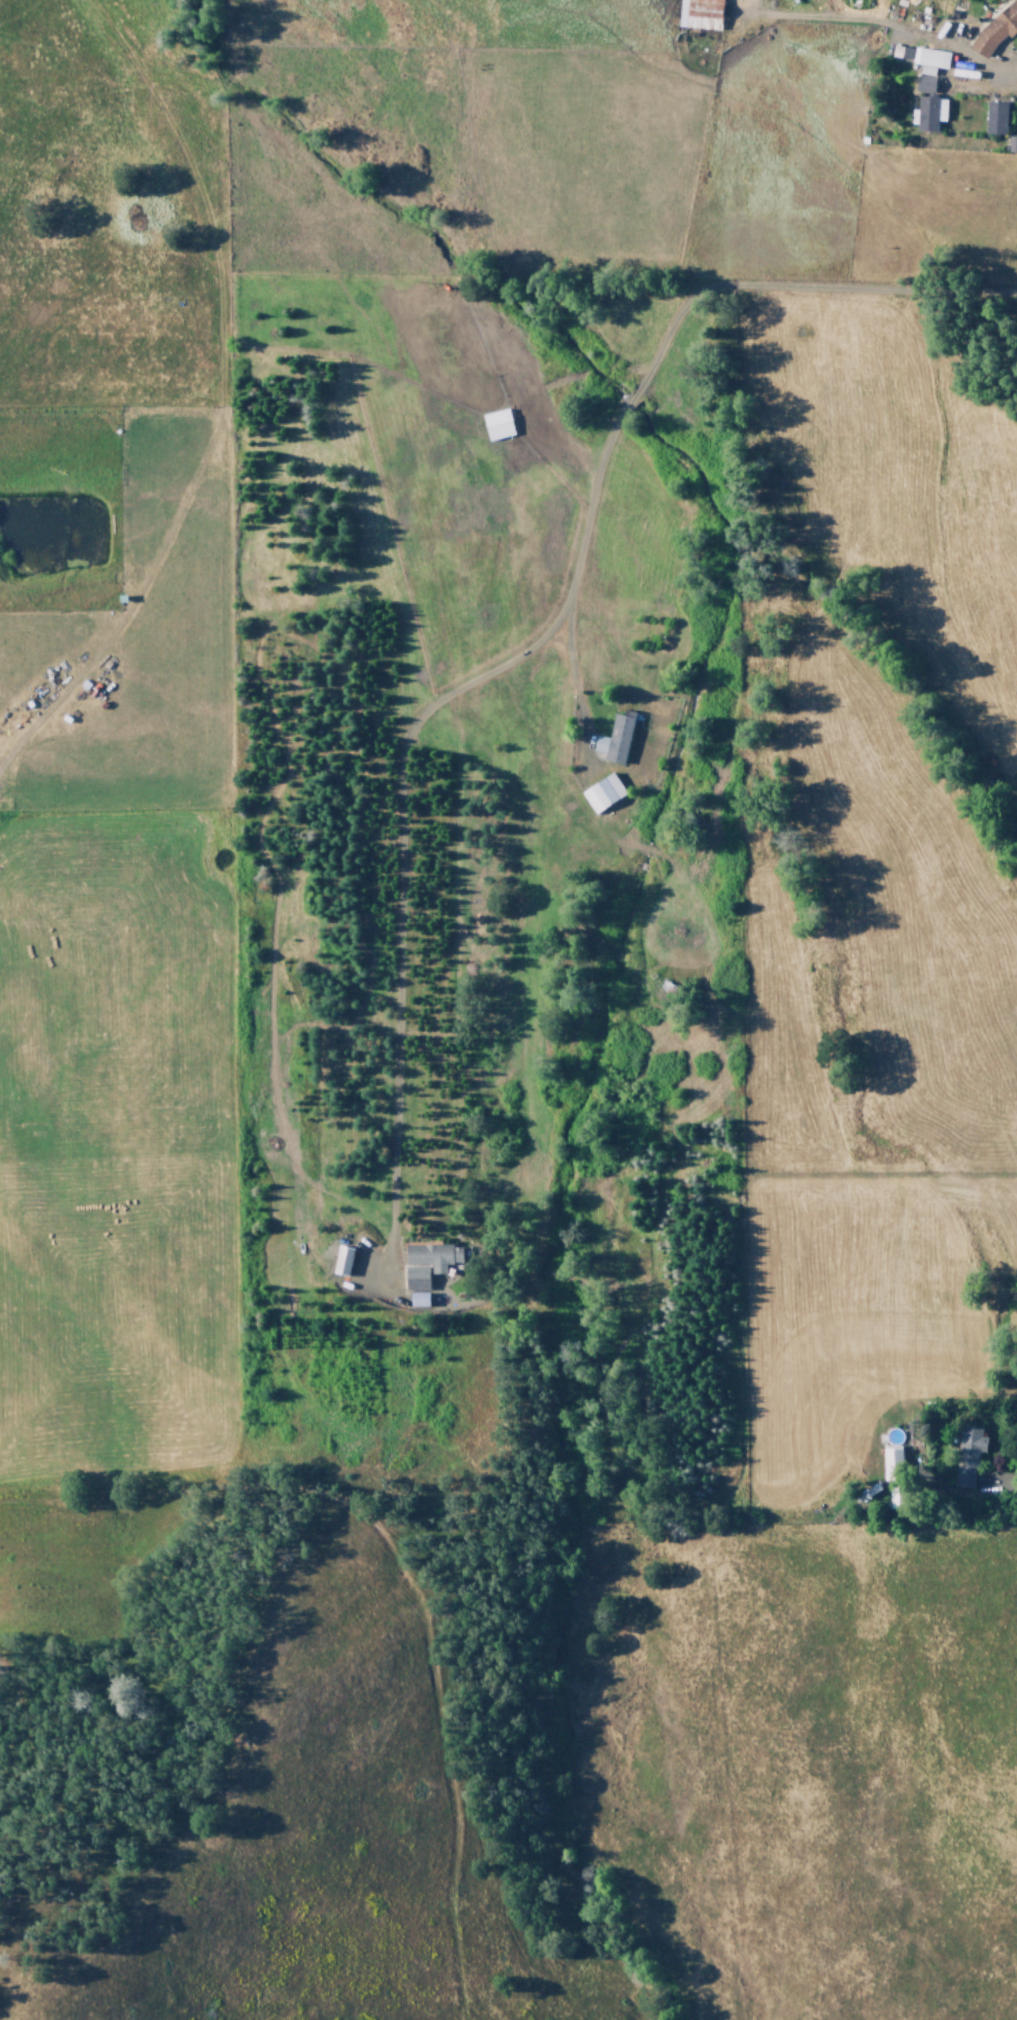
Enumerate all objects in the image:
building: (699, 14)
building: (996, 30)
building: (900, 52)
building: (928, 89)
building: (995, 118)
building: (1011, 144)
building: (614, 739)
building: (602, 792)
building: (428, 1262)
building: (418, 1299)
building: (892, 1464)
building: (895, 1497)

